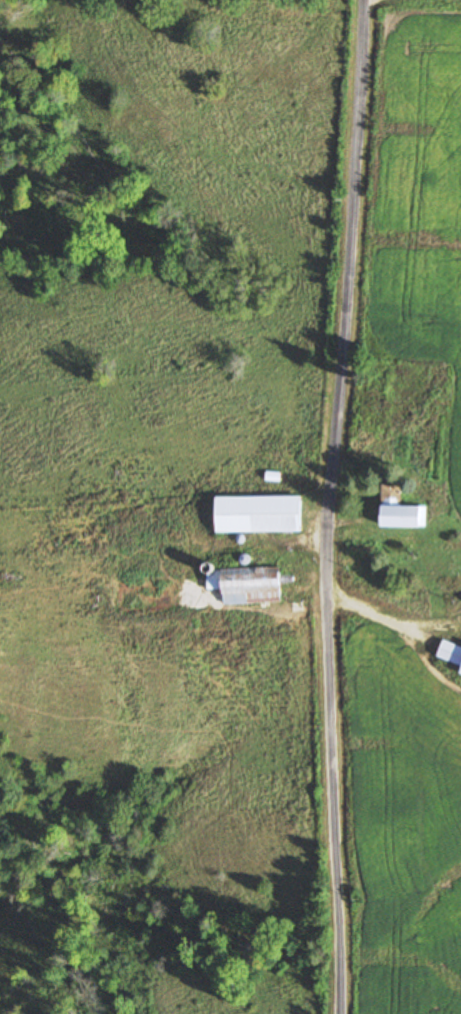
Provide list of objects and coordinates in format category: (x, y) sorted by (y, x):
building: (393, 505)
road: (333, 506)
building: (260, 515)
building: (435, 566)
building: (250, 584)

